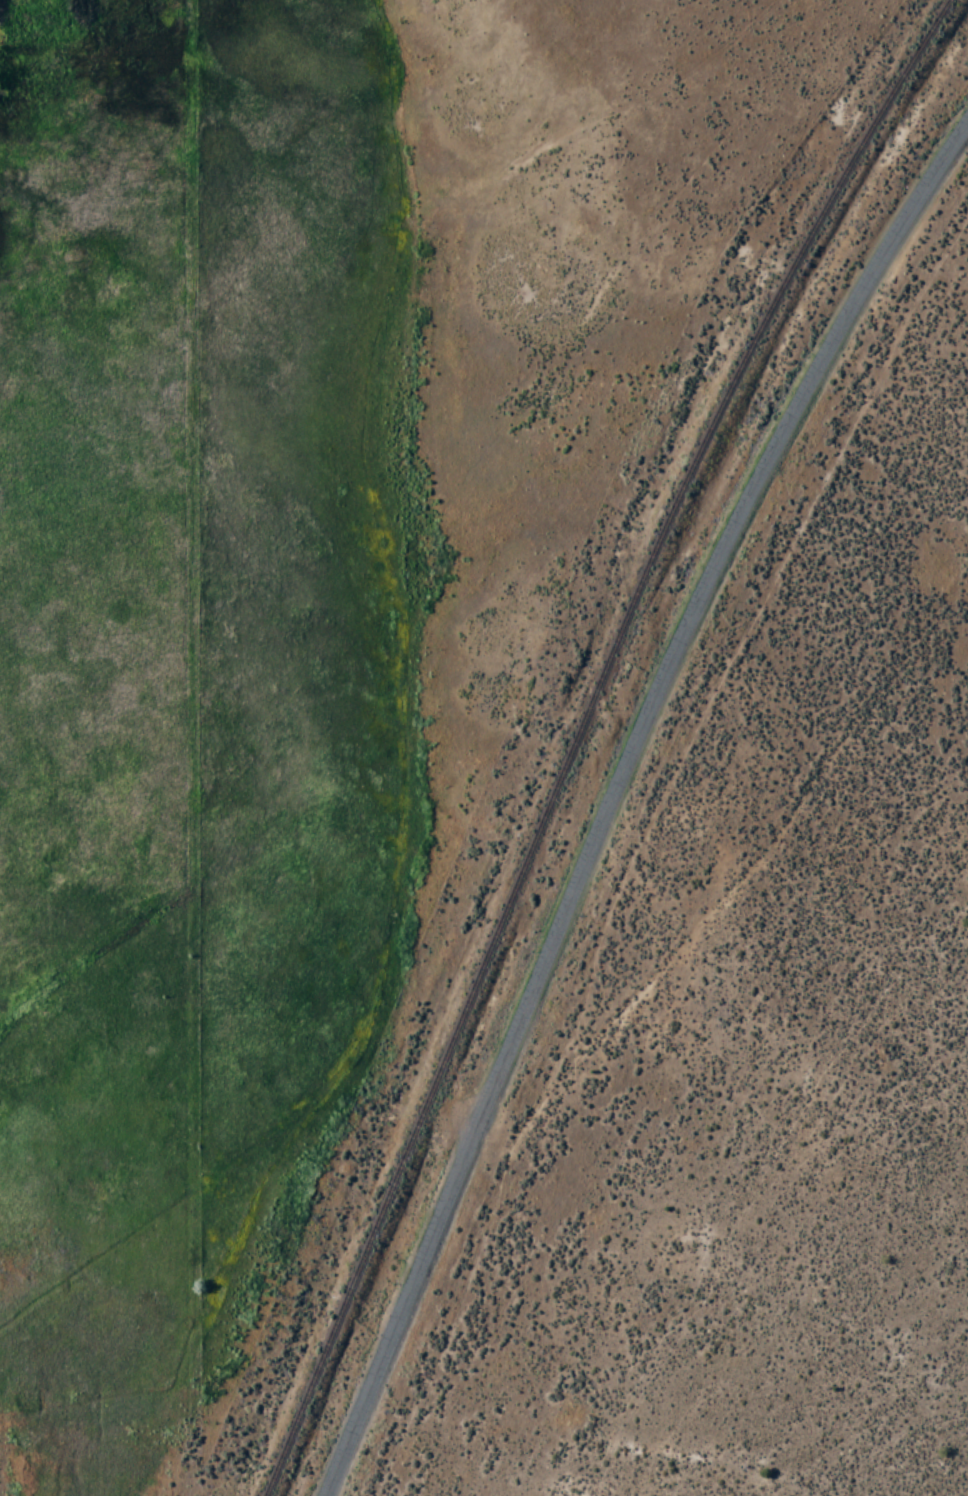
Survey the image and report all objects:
railway: (576, 732)
road: (612, 791)

